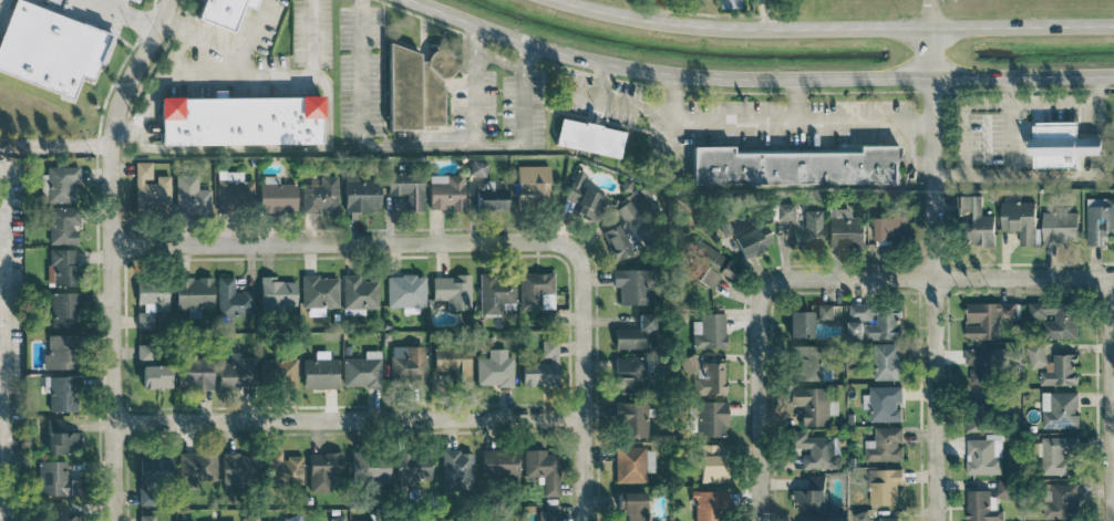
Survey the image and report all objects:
road: (116, 6)
building: (223, 11)
road: (122, 13)
road: (836, 28)
road: (506, 34)
building: (47, 45)
road: (240, 48)
road: (638, 71)
road: (363, 72)
road: (1104, 75)
road: (276, 76)
road: (164, 77)
road: (734, 77)
road: (945, 79)
road: (600, 81)
road: (476, 84)
building: (416, 86)
road: (671, 92)
road: (524, 93)
road: (579, 95)
road: (796, 101)
road: (1055, 101)
road: (632, 104)
road: (670, 117)
building: (241, 121)
road: (863, 122)
road: (733, 123)
building: (589, 136)
building: (1062, 142)
road: (422, 144)
road: (501, 144)
road: (54, 145)
road: (670, 147)
building: (798, 166)
road: (1008, 175)
building: (61, 184)
building: (533, 185)
building: (151, 186)
building: (234, 188)
building: (408, 188)
building: (487, 189)
building: (446, 191)
building: (320, 194)
building: (361, 194)
building: (192, 195)
building: (277, 195)
building: (585, 197)
building: (785, 211)
building: (1020, 219)
building: (977, 221)
building: (1098, 221)
building: (64, 225)
building: (891, 227)
building: (1060, 227)
building: (845, 228)
building: (808, 230)
building: (620, 232)
road: (342, 240)
building: (753, 240)
road: (112, 253)
building: (706, 253)
road: (929, 260)
building: (64, 267)
building: (731, 269)
road: (938, 277)
building: (708, 278)
building: (633, 285)
building: (536, 290)
building: (453, 291)
building: (320, 292)
building: (359, 292)
building: (406, 292)
building: (496, 292)
building: (194, 293)
building: (278, 293)
building: (234, 299)
building: (151, 301)
building: (64, 309)
building: (825, 311)
building: (860, 311)
building: (987, 317)
building: (1055, 317)
building: (800, 324)
building: (885, 325)
building: (856, 330)
building: (709, 331)
building: (637, 334)
road: (2, 346)
building: (62, 352)
building: (1035, 355)
building: (887, 361)
building: (453, 362)
building: (809, 363)
building: (981, 364)
building: (409, 365)
building: (543, 366)
building: (495, 367)
building: (363, 371)
building: (1061, 371)
building: (238, 372)
building: (320, 372)
building: (196, 373)
building: (279, 373)
building: (630, 375)
building: (705, 375)
building: (156, 376)
road: (581, 384)
building: (62, 393)
road: (1108, 398)
road: (759, 403)
building: (885, 403)
building: (814, 404)
building: (1060, 408)
building: (979, 413)
road: (347, 418)
building: (711, 418)
building: (632, 419)
building: (60, 437)
building: (888, 442)
building: (818, 449)
building: (984, 454)
building: (1056, 454)
building: (501, 462)
building: (633, 463)
building: (712, 463)
building: (414, 465)
building: (196, 468)
building: (283, 468)
building: (370, 468)
building: (544, 469)
building: (237, 470)
building: (324, 470)
building: (457, 470)
building: (153, 477)
building: (56, 479)
building: (887, 484)
building: (1003, 488)
building: (813, 493)
building: (1061, 501)
building: (631, 506)
building: (710, 506)
building: (981, 507)
building: (59, 512)
building: (548, 513)
building: (146, 518)
building: (251, 518)
building: (295, 518)
building: (338, 518)
building: (889, 518)
building: (382, 520)

